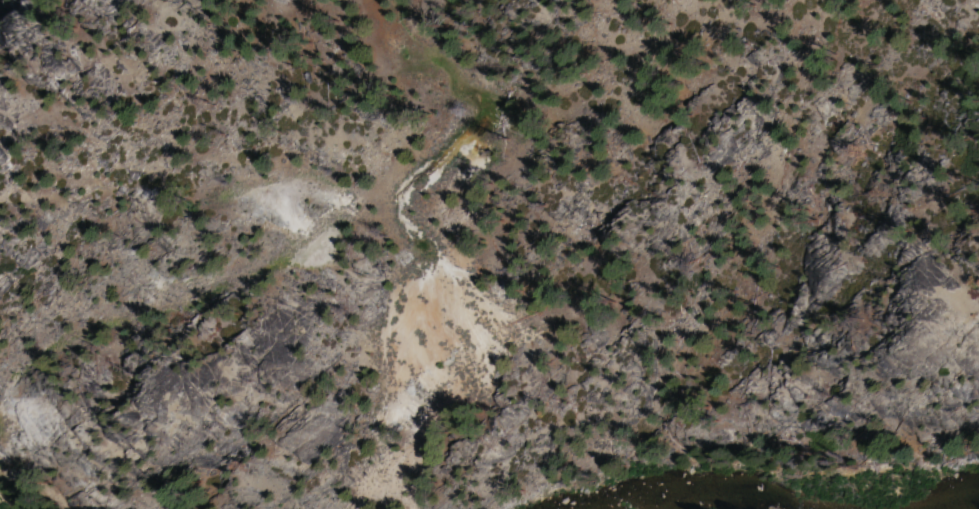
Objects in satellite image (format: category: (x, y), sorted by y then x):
river: (760, 463)
river: (940, 483)
river: (565, 489)
river: (37, 492)

